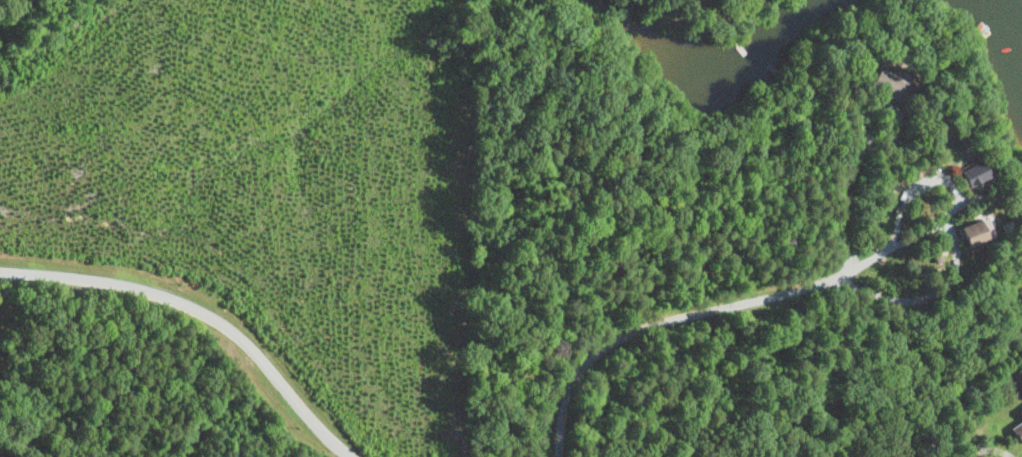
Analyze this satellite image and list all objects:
building: (892, 87)
building: (982, 175)
road: (199, 315)
road: (698, 317)
building: (1021, 413)
building: (1019, 432)

